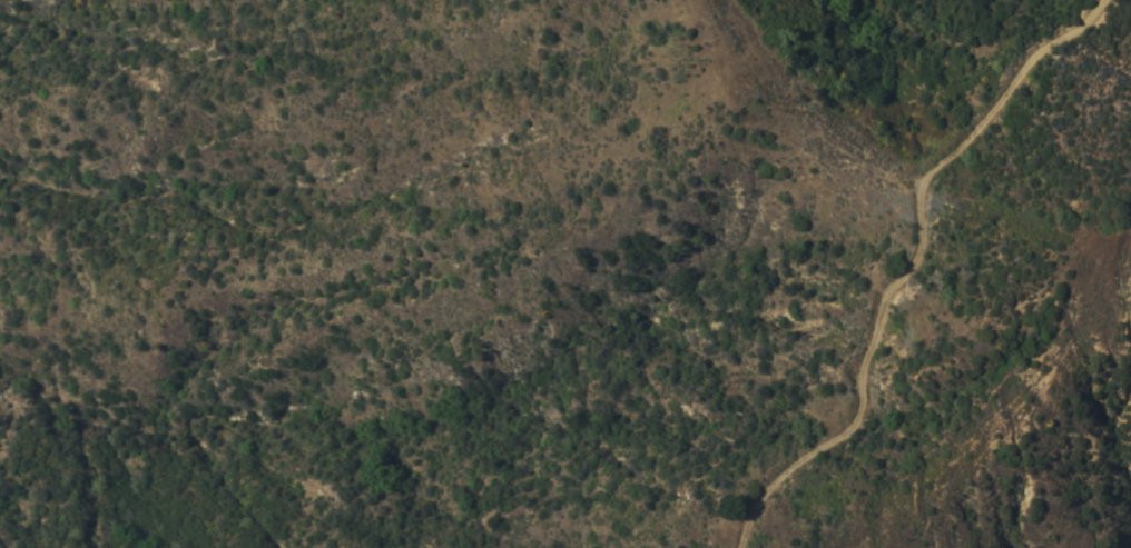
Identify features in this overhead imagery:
road: (911, 268)
road: (995, 421)

